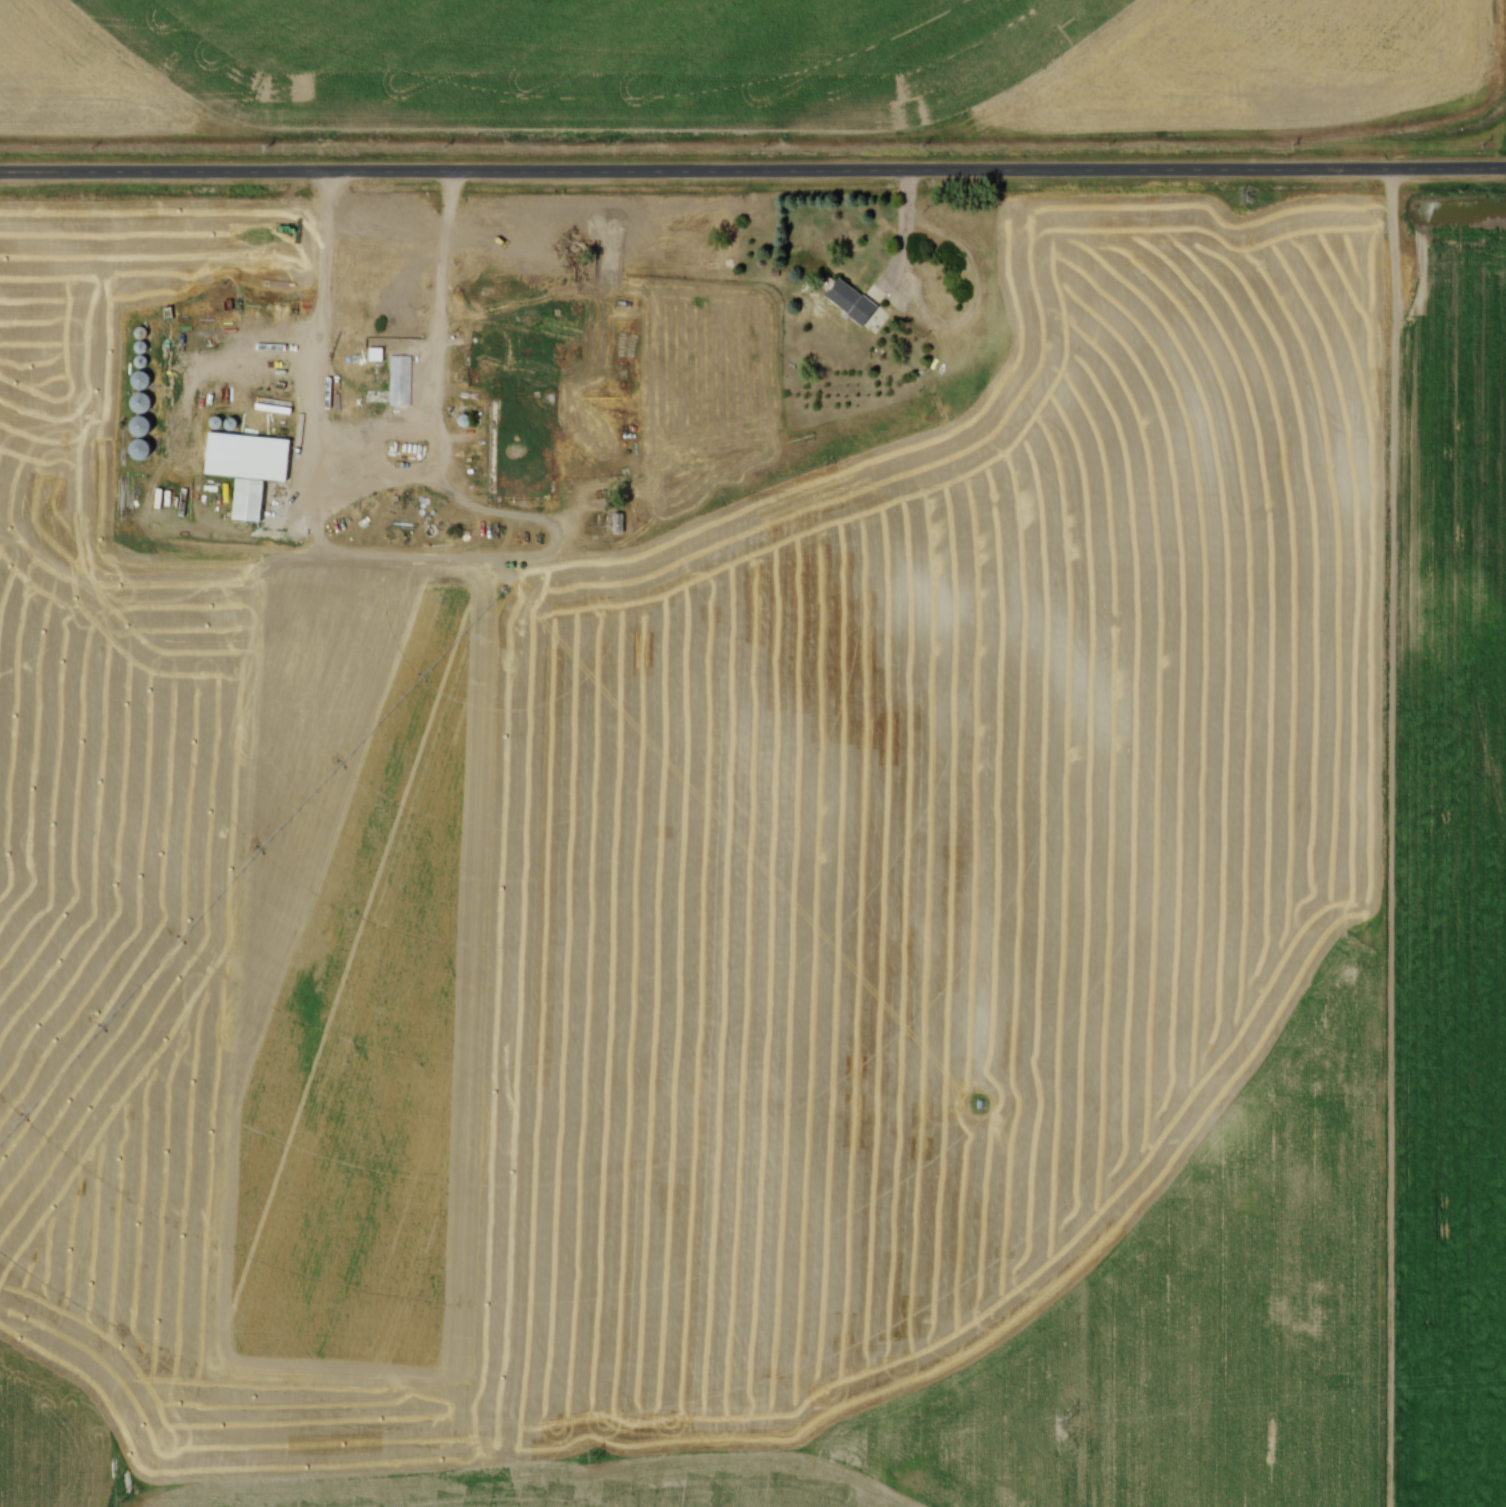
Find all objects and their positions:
road: (752, 170)
road: (911, 232)
building: (520, 282)
building: (853, 301)
building: (144, 393)
building: (380, 396)
road: (364, 434)
building: (146, 439)
building: (251, 469)
building: (619, 523)
power tower: (1066, 1419)
power tower: (593, 1458)
power tower: (123, 1498)

